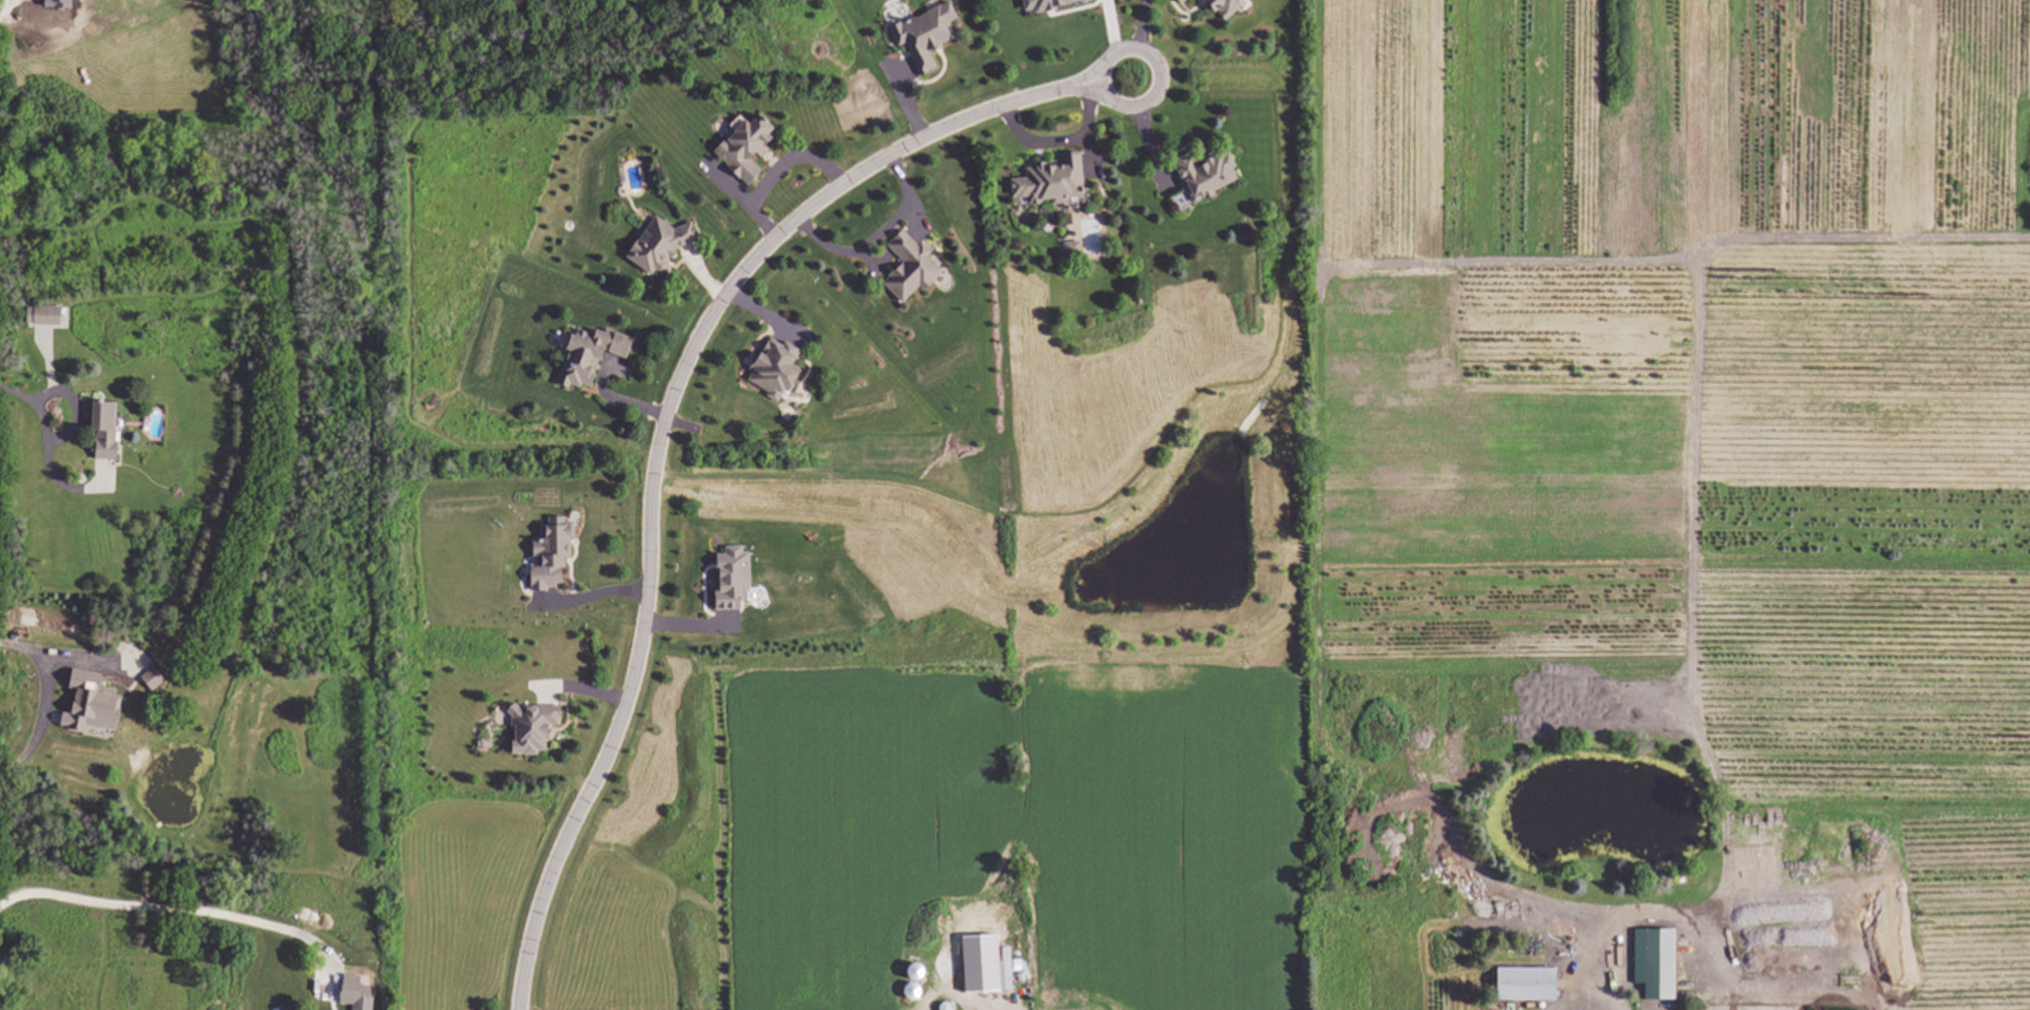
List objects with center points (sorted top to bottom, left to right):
building: (1183, 1)
road: (9, 5)
building: (1226, 7)
building: (927, 36)
road: (1160, 84)
road: (1058, 140)
building: (748, 149)
road: (771, 170)
building: (1208, 174)
building: (1052, 183)
road: (875, 234)
building: (661, 245)
building: (1071, 252)
building: (911, 268)
building: (44, 317)
building: (590, 356)
building: (777, 370)
building: (106, 432)
road: (661, 435)
road: (47, 445)
park: (807, 499)
building: (551, 558)
building: (153, 679)
road: (46, 703)
building: (114, 705)
building: (534, 729)
road: (182, 907)
road: (1700, 950)
building: (1650, 964)
building: (992, 973)
building: (1520, 985)
road: (957, 995)
building: (362, 1002)

